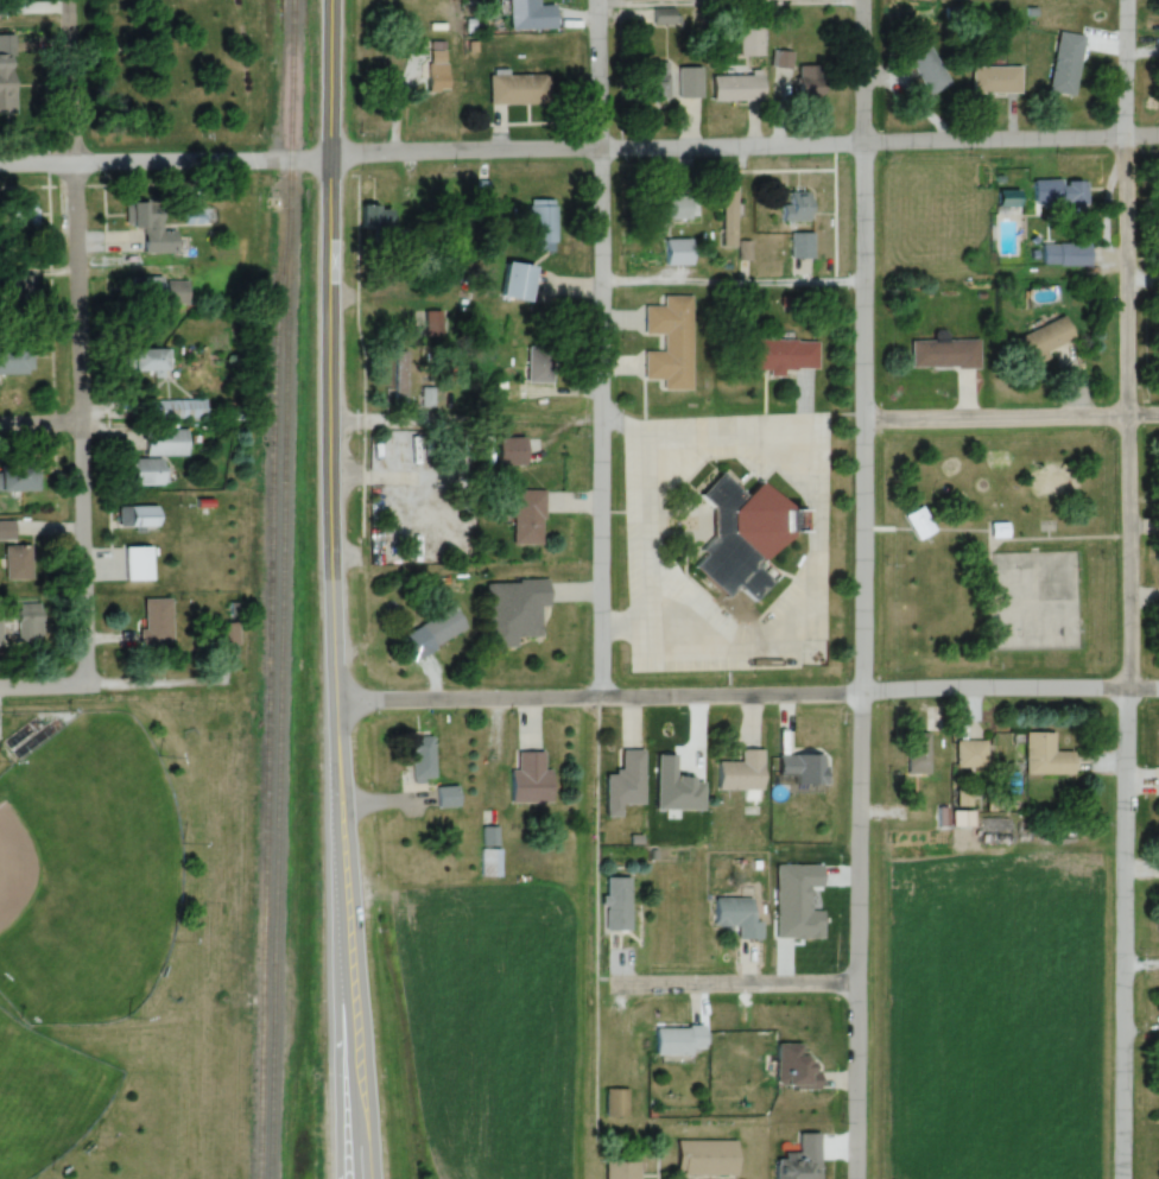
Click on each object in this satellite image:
road: (722, 9)
building: (531, 15)
building: (664, 15)
building: (750, 36)
building: (1065, 63)
building: (925, 66)
building: (783, 69)
park: (179, 70)
building: (437, 78)
building: (657, 80)
building: (996, 80)
building: (810, 81)
building: (690, 82)
building: (6, 84)
railway: (290, 84)
building: (737, 88)
building: (518, 89)
road: (743, 150)
road: (164, 160)
building: (1075, 194)
building: (1008, 198)
building: (671, 207)
building: (794, 207)
building: (23, 214)
building: (729, 217)
building: (379, 220)
building: (541, 220)
building: (150, 228)
building: (800, 245)
building: (678, 252)
building: (1065, 254)
building: (518, 281)
building: (150, 289)
road: (723, 289)
building: (176, 293)
building: (1044, 338)
road: (77, 341)
building: (670, 342)
road: (596, 351)
building: (779, 354)
building: (944, 354)
building: (15, 360)
building: (150, 361)
building: (539, 363)
building: (508, 391)
building: (399, 398)
road: (462, 406)
building: (178, 408)
road: (1006, 417)
road: (39, 424)
building: (166, 442)
building: (394, 450)
building: (511, 450)
building: (147, 473)
building: (21, 476)
building: (395, 508)
building: (139, 516)
building: (527, 516)
building: (919, 524)
building: (999, 530)
building: (6, 531)
building: (745, 537)
park: (989, 551)
building: (17, 563)
building: (138, 564)
road: (336, 589)
road: (853, 589)
road: (1120, 589)
building: (513, 610)
building: (28, 622)
building: (157, 622)
building: (442, 627)
building: (4, 633)
building: (226, 634)
railway: (270, 673)
railway: (279, 673)
road: (43, 684)
road: (160, 689)
road: (748, 701)
building: (917, 753)
building: (970, 753)
building: (1045, 755)
building: (422, 760)
building: (741, 772)
building: (530, 780)
building: (625, 784)
building: (446, 798)
building: (488, 829)
building: (489, 862)
park: (84, 874)
building: (616, 902)
building: (736, 915)
road: (1139, 974)
road: (733, 983)
building: (678, 1041)
building: (793, 1067)
park: (44, 1098)
building: (616, 1103)
building: (707, 1159)
building: (800, 1160)
building: (622, 1171)

